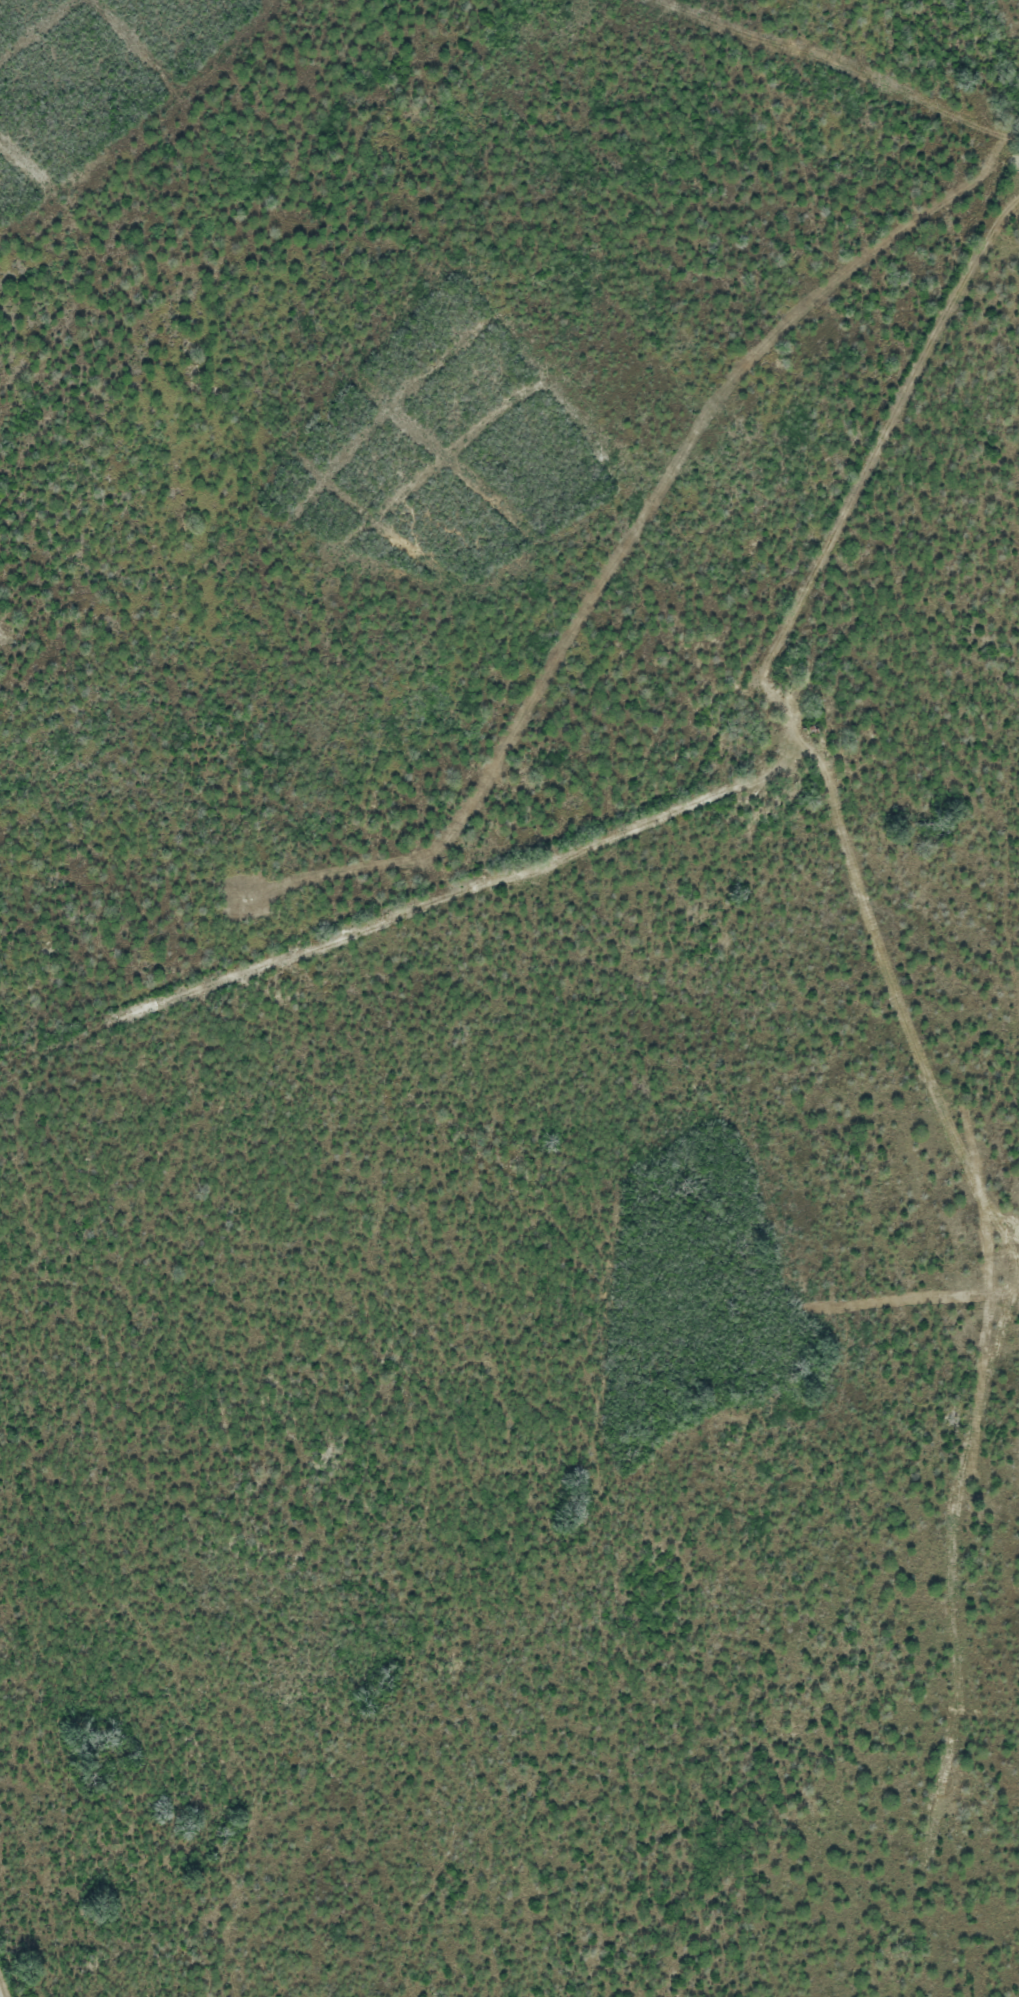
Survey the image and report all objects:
road: (0, 1995)

